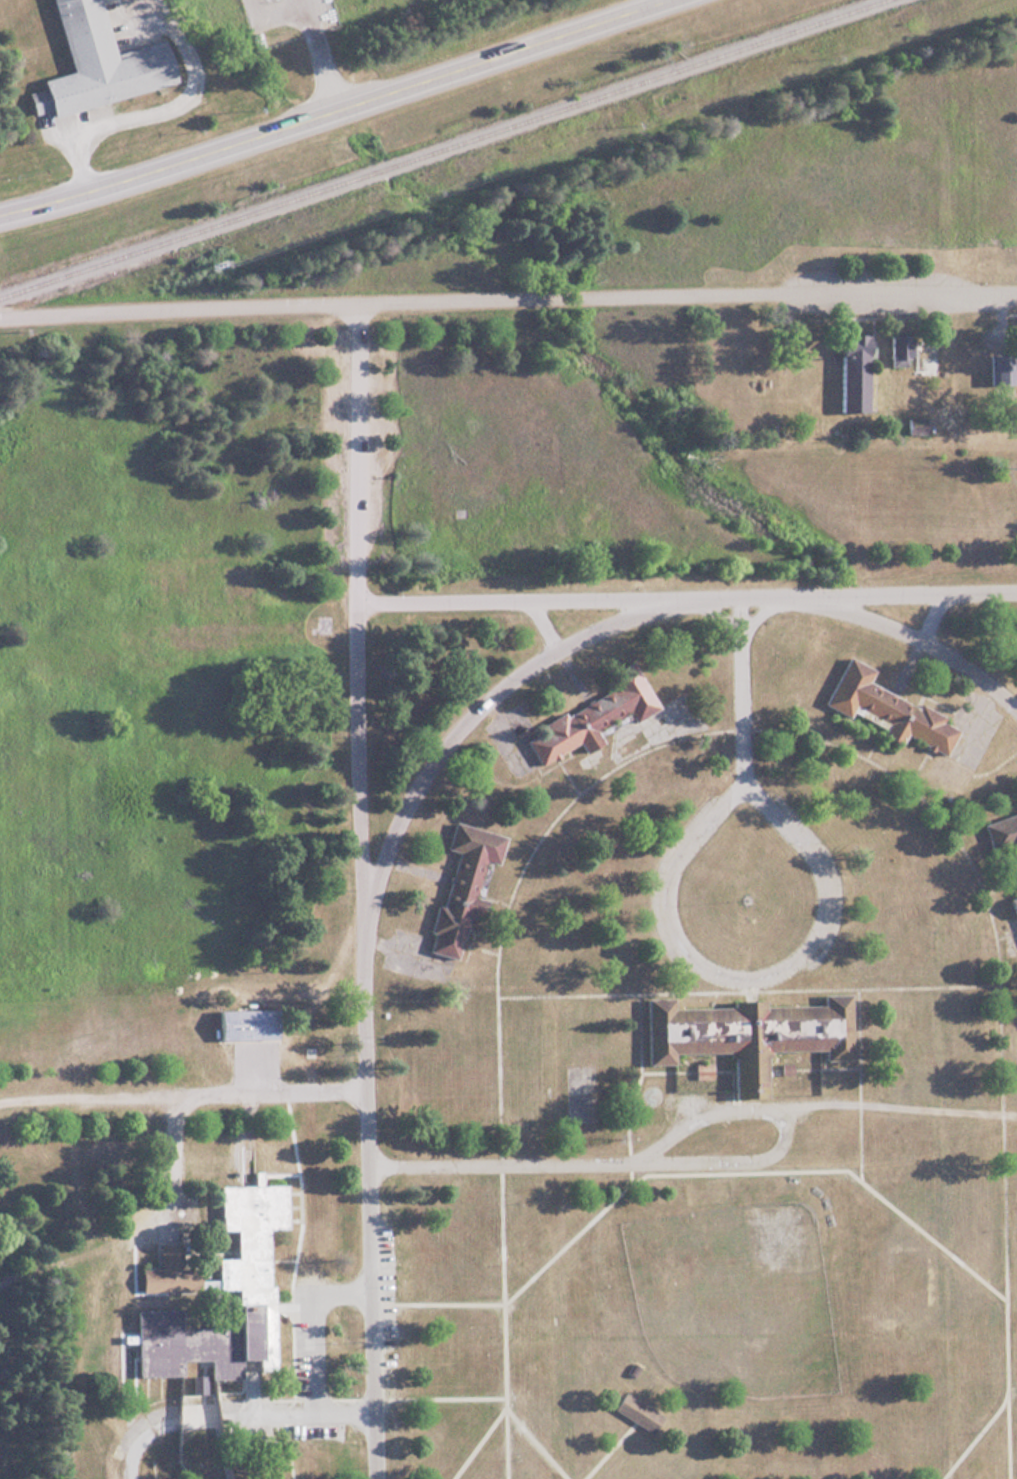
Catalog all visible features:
building: (91, 63)
road: (331, 109)
road: (118, 115)
railway: (440, 147)
road: (687, 298)
road: (178, 307)
building: (996, 368)
building: (848, 371)
road: (685, 596)
road: (930, 615)
road: (543, 626)
road: (918, 638)
road: (740, 691)
building: (883, 708)
road: (473, 710)
building: (591, 716)
building: (1004, 849)
building: (459, 884)
road: (361, 891)
road: (707, 969)
building: (242, 1024)
building: (742, 1033)
road: (183, 1093)
road: (672, 1160)
building: (162, 1270)
building: (242, 1273)
building: (634, 1412)
road: (230, 1414)

